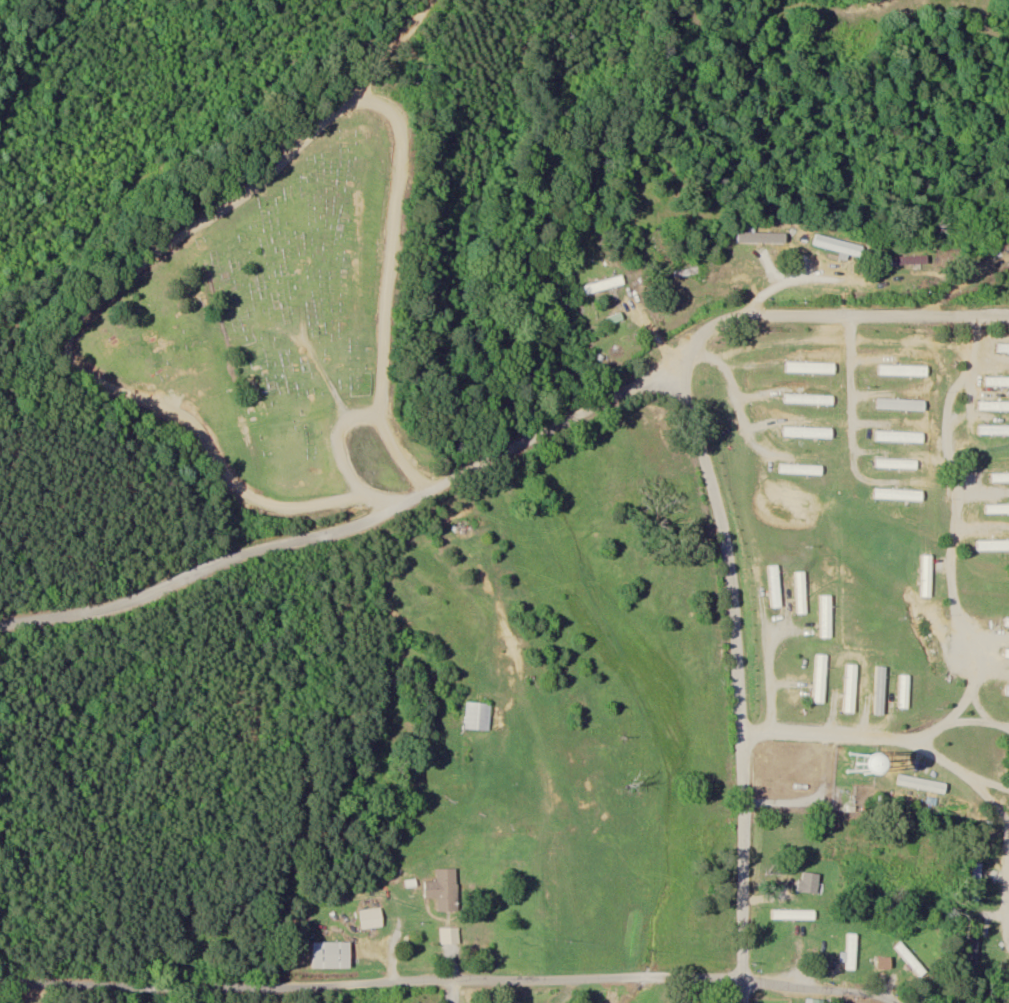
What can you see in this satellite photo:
road: (986, 28)
road: (830, 55)
road: (221, 211)
road: (709, 212)
building: (756, 236)
building: (1007, 241)
building: (841, 246)
building: (911, 260)
road: (981, 271)
building: (688, 272)
building: (605, 285)
road: (865, 285)
park: (272, 298)
road: (836, 313)
building: (616, 318)
building: (1004, 348)
road: (988, 361)
building: (997, 381)
building: (994, 405)
building: (995, 429)
building: (1001, 477)
road: (981, 493)
building: (998, 508)
road: (351, 525)
building: (777, 586)
building: (803, 592)
building: (1007, 623)
road: (960, 626)
road: (986, 635)
road: (766, 653)
building: (1007, 654)
road: (736, 675)
road: (991, 675)
building: (846, 682)
building: (853, 688)
building: (882, 690)
building: (1008, 691)
building: (470, 712)
road: (977, 719)
road: (989, 782)
building: (923, 784)
road: (999, 823)
road: (1004, 826)
building: (811, 883)
building: (977, 883)
building: (446, 890)
building: (795, 915)
building: (373, 918)
building: (450, 936)
building: (974, 944)
building: (852, 952)
building: (333, 955)
building: (911, 960)
road: (448, 977)

